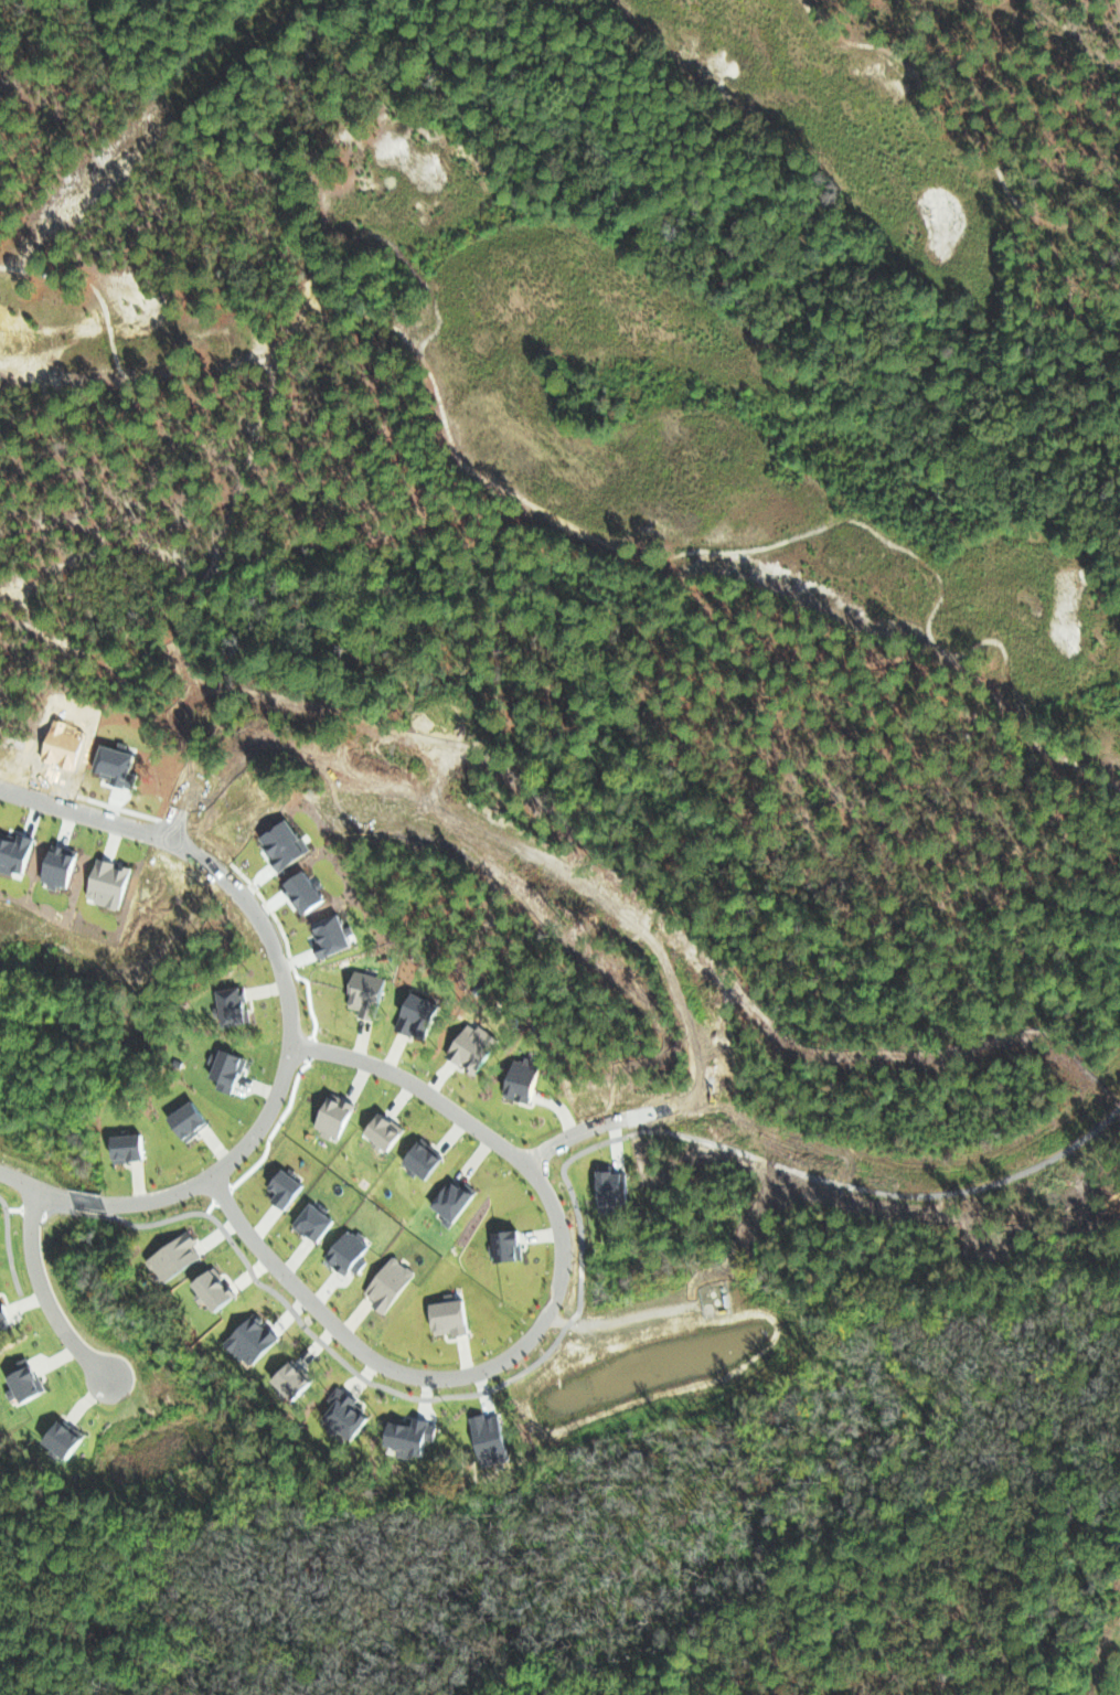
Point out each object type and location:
park: (616, 298)
road: (154, 835)
park: (67, 907)
building: (369, 994)
building: (242, 1005)
building: (423, 1015)
building: (477, 1047)
building: (230, 1068)
building: (527, 1080)
building: (338, 1117)
building: (195, 1121)
building: (390, 1131)
building: (135, 1147)
road: (227, 1152)
building: (429, 1159)
building: (616, 1187)
building: (288, 1188)
building: (459, 1200)
building: (318, 1223)
building: (511, 1246)
building: (351, 1251)
building: (180, 1258)
building: (392, 1283)
building: (221, 1290)
road: (52, 1298)
building: (6, 1316)
building: (440, 1316)
road: (544, 1320)
building: (256, 1340)
building: (298, 1378)
building: (30, 1382)
building: (338, 1411)
building: (404, 1435)
building: (71, 1438)
building: (483, 1439)

